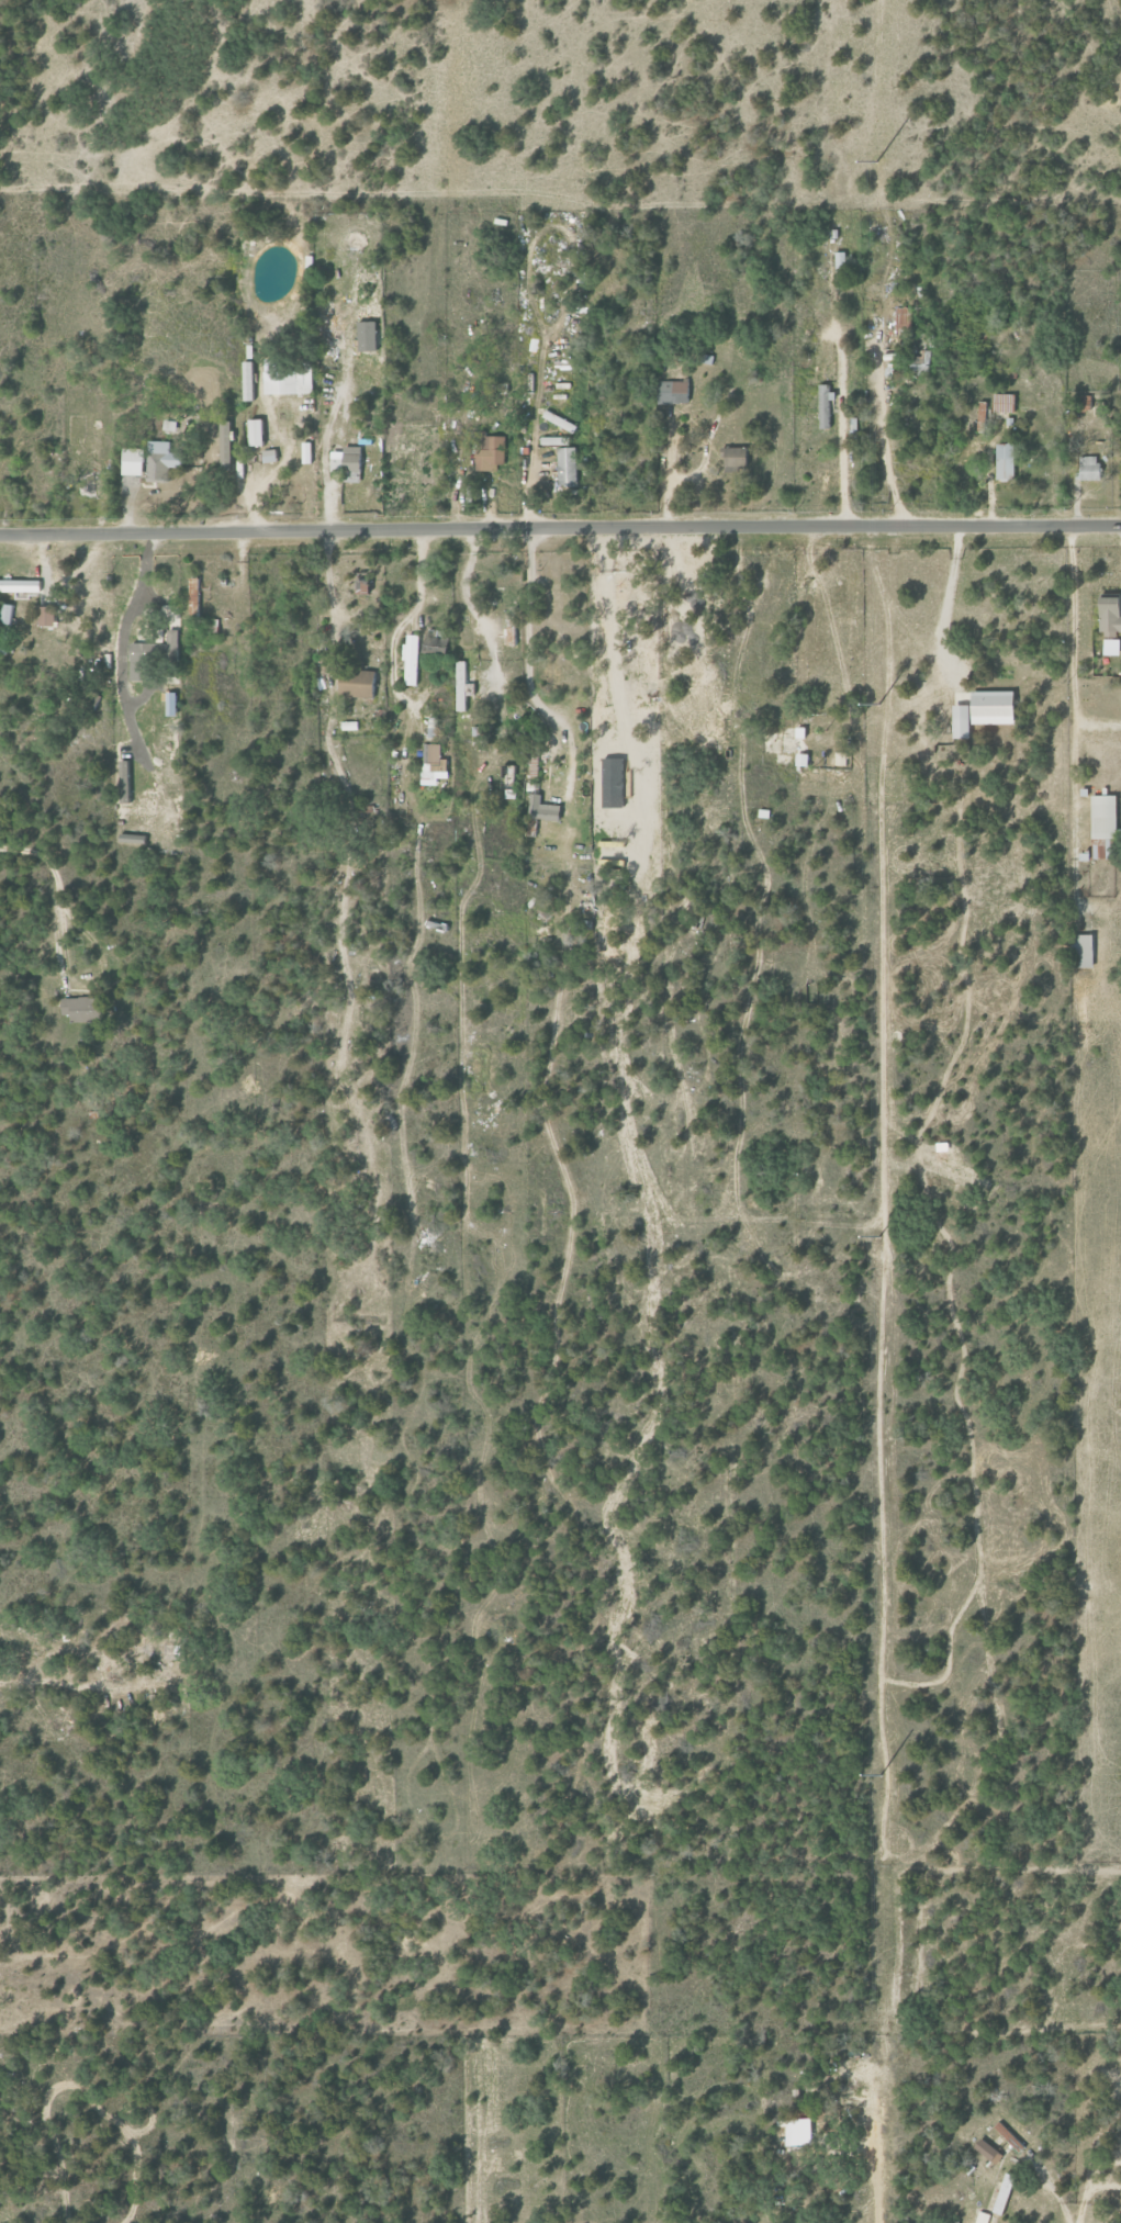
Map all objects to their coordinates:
power tower: (876, 161)
building: (842, 269)
building: (904, 321)
building: (289, 379)
building: (251, 381)
building: (674, 392)
road: (840, 404)
building: (828, 405)
road: (877, 429)
building: (260, 431)
building: (558, 440)
building: (493, 451)
building: (272, 456)
building: (162, 460)
building: (737, 460)
building: (1006, 460)
building: (133, 461)
building: (344, 464)
building: (569, 465)
building: (1090, 468)
road: (257, 483)
road: (560, 527)
road: (1120, 537)
road: (671, 569)
building: (20, 586)
building: (367, 586)
building: (358, 587)
building: (197, 599)
building: (1112, 614)
building: (49, 616)
building: (5, 627)
road: (333, 631)
building: (176, 640)
road: (926, 640)
building: (440, 649)
building: (413, 659)
building: (144, 661)
road: (122, 674)
building: (360, 683)
building: (463, 686)
road: (1074, 686)
power tower: (877, 704)
building: (986, 711)
building: (351, 726)
building: (436, 729)
building: (434, 757)
building: (841, 759)
building: (805, 760)
building: (126, 773)
building: (543, 809)
building: (1106, 824)
building: (134, 839)
road: (413, 849)
road: (565, 853)
road: (763, 862)
road: (57, 890)
building: (1087, 951)
building: (85, 1009)
power tower: (877, 1236)
power tower: (879, 1774)
building: (1006, 2130)
building: (989, 2149)
road: (1087, 2197)

